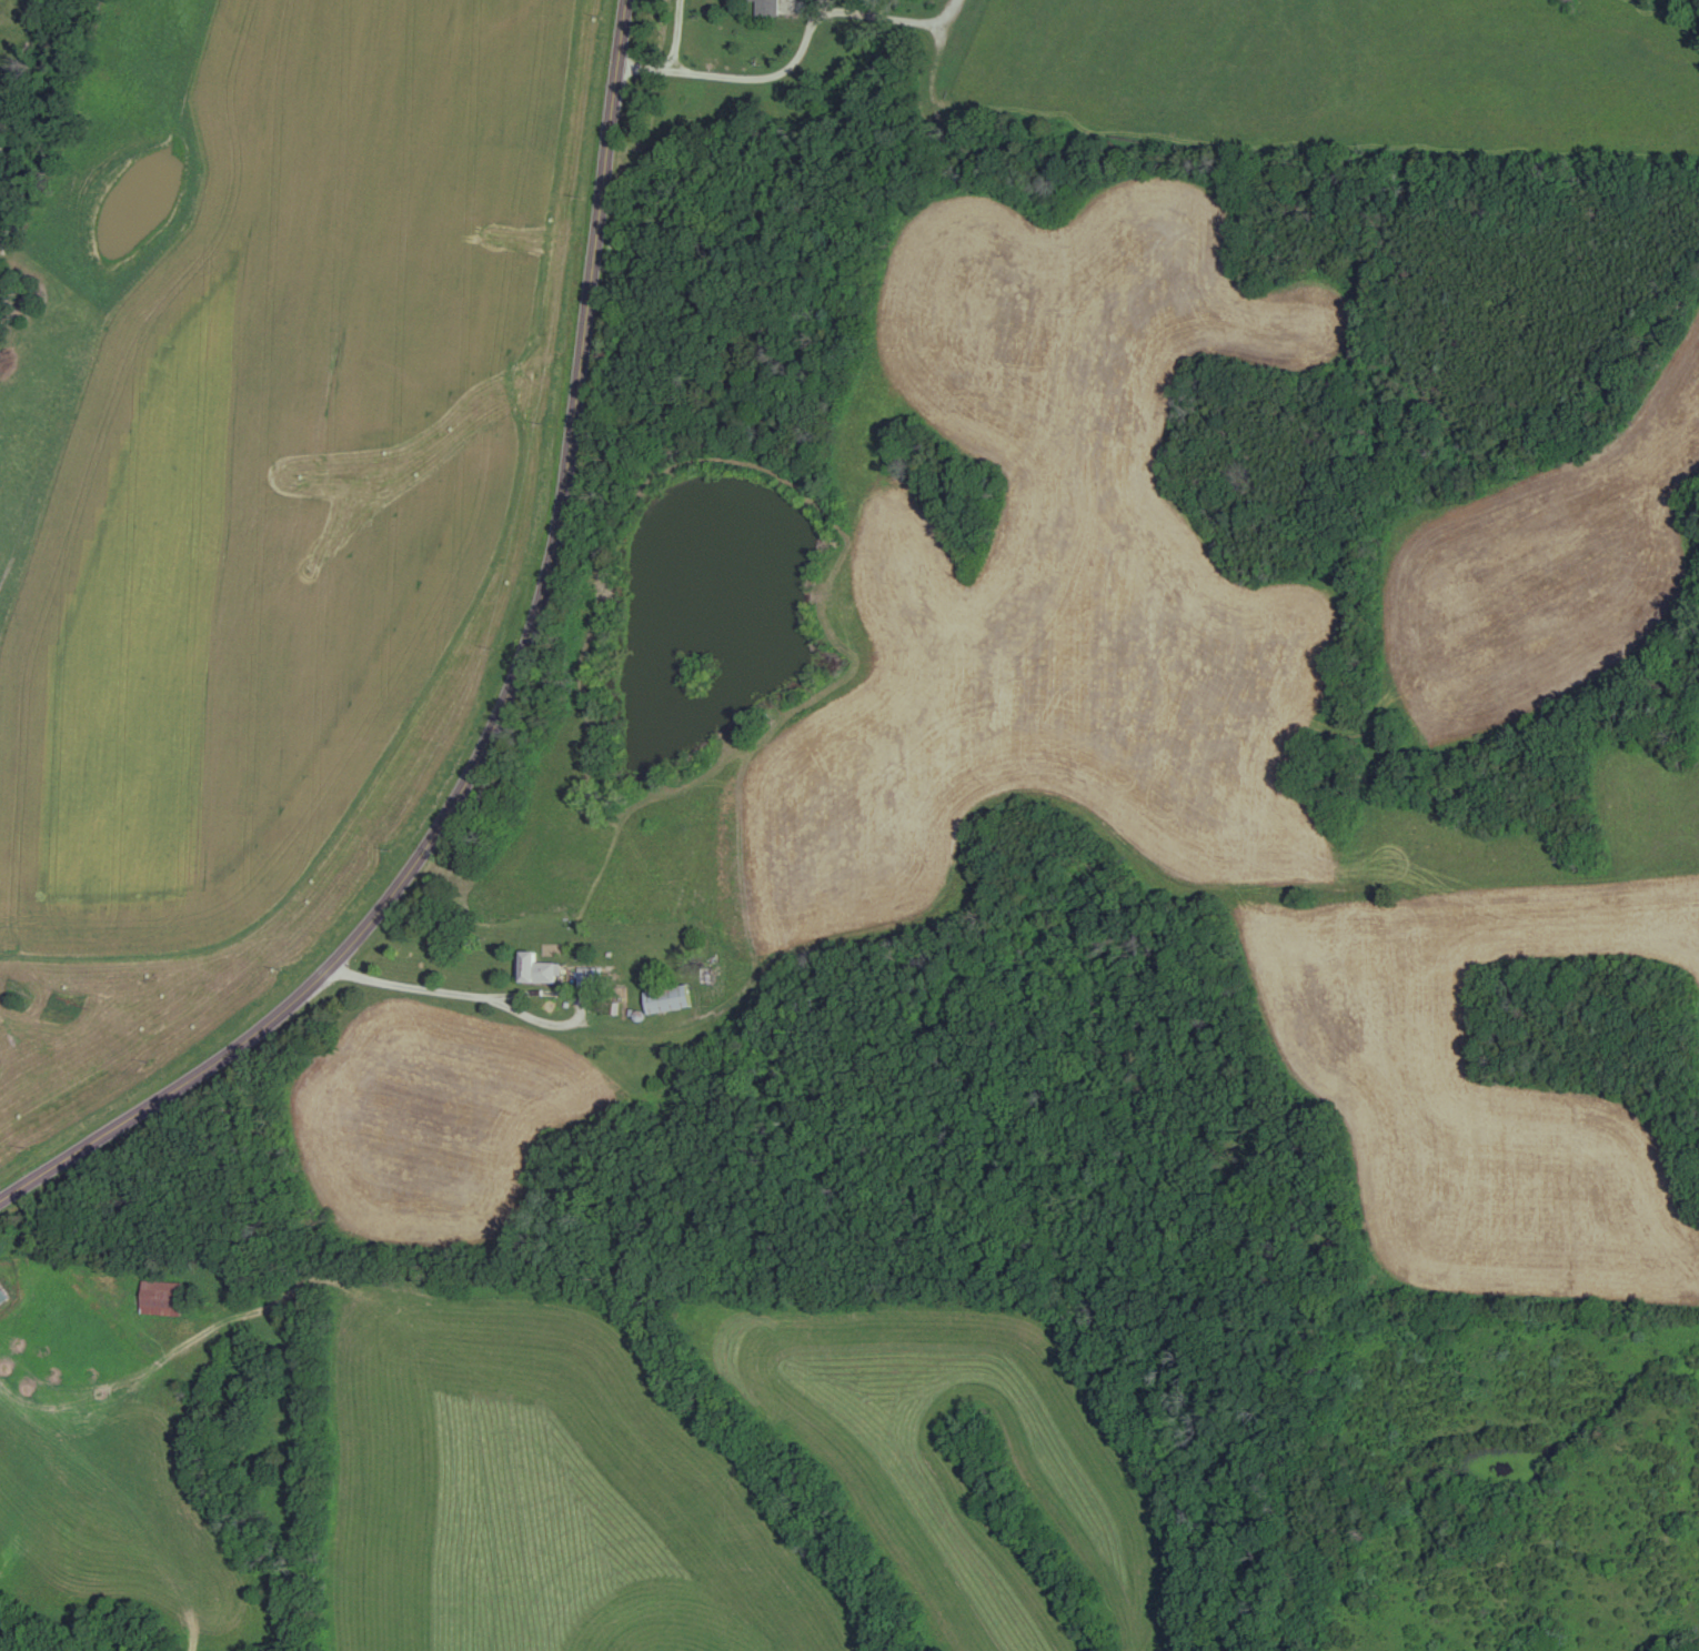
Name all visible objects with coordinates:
building: (766, 8)
road: (796, 48)
road: (506, 709)
building: (535, 969)
building: (667, 1000)
road: (521, 1003)
building: (161, 1299)

